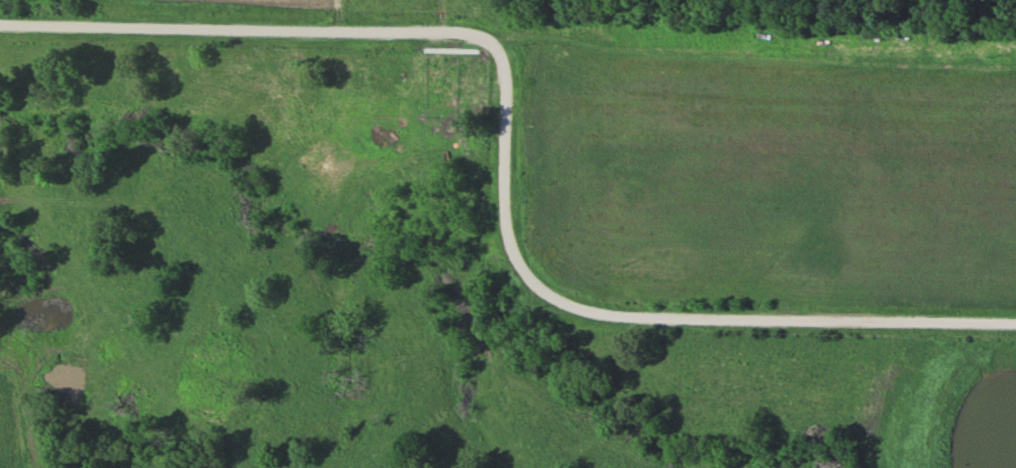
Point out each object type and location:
road: (487, 176)

